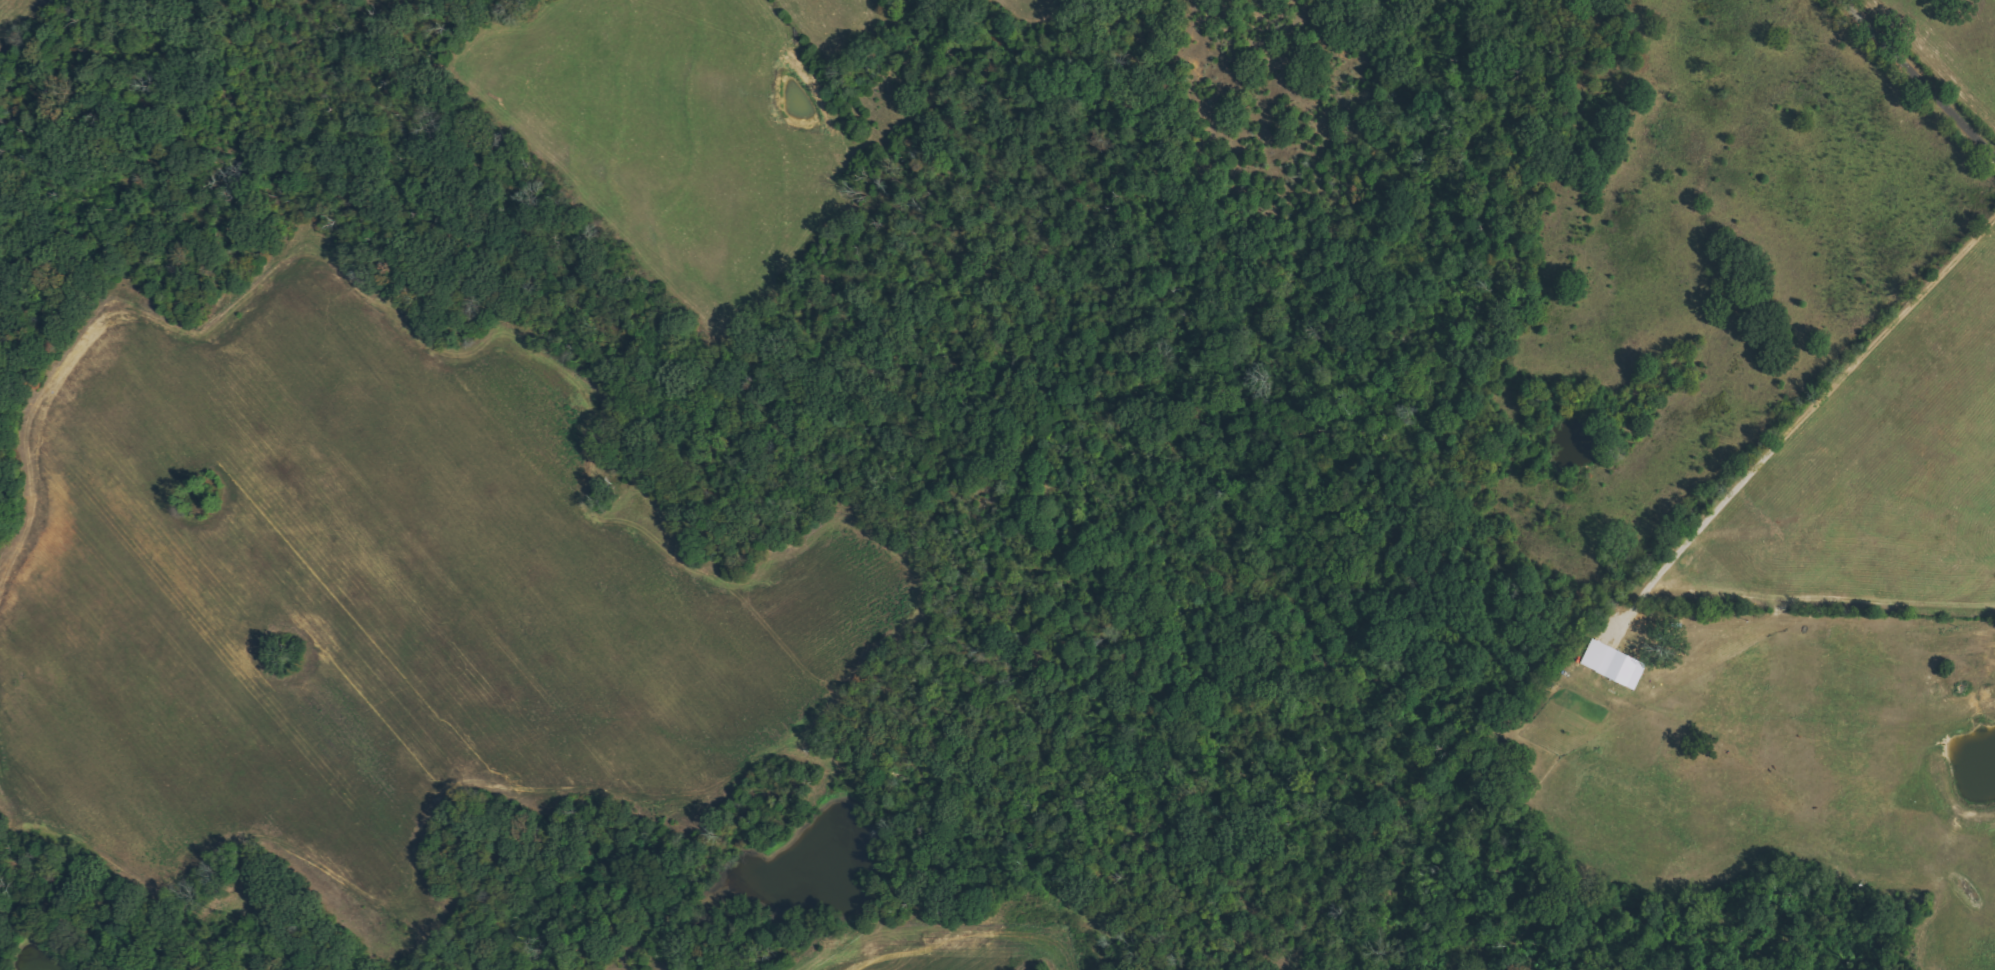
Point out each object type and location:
road: (1920, 76)
road: (1801, 413)
building: (1619, 664)

